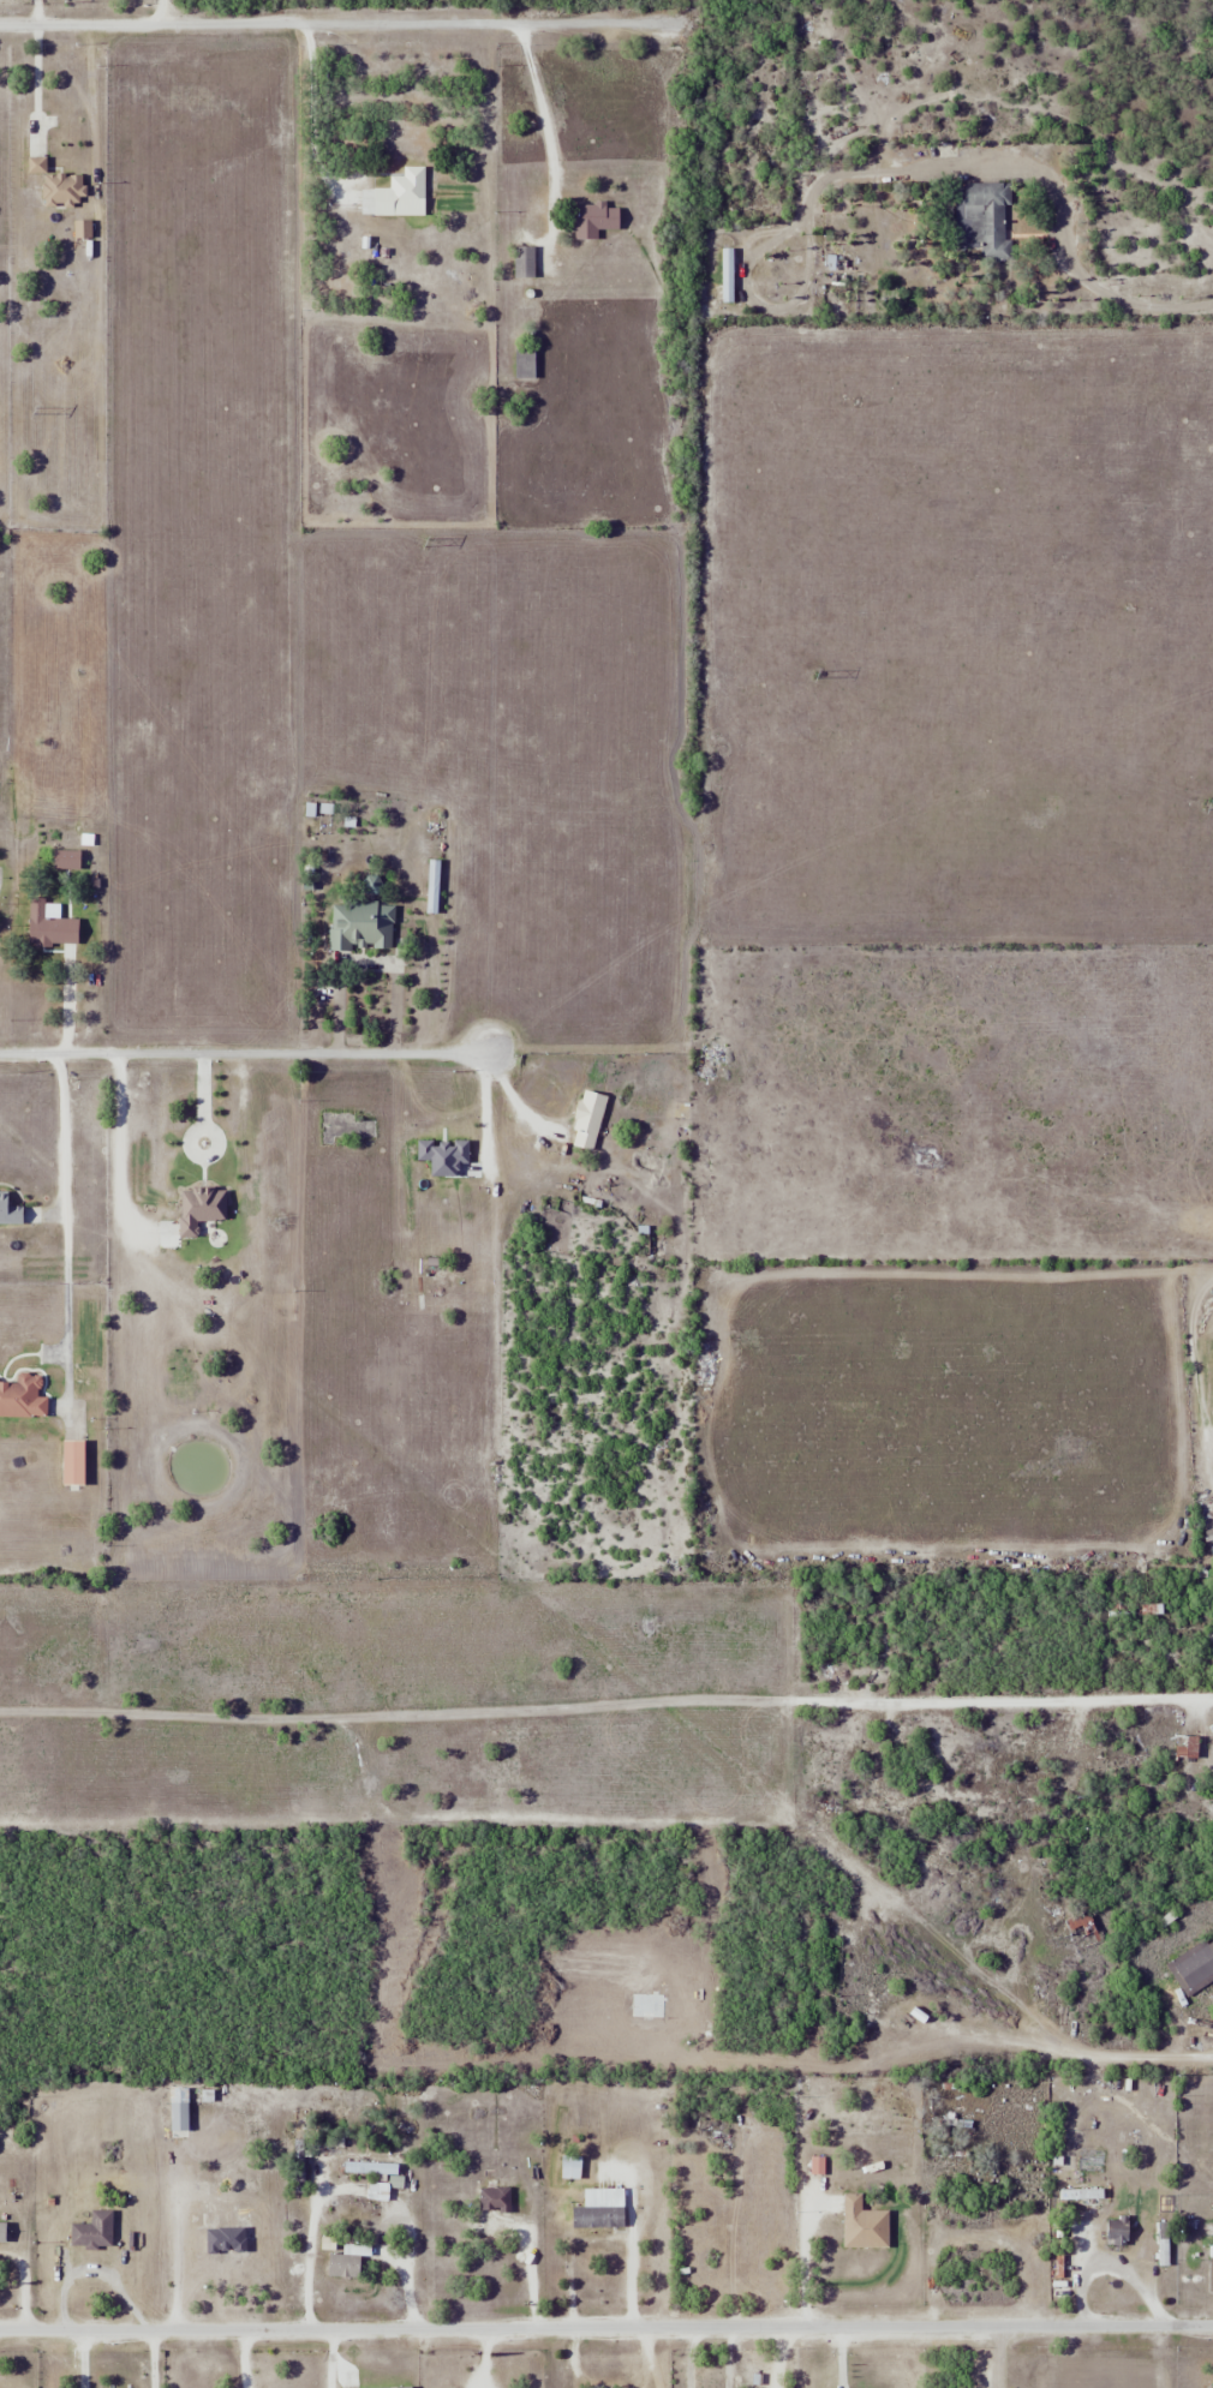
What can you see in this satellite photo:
road: (337, 22)
road: (310, 112)
building: (62, 191)
building: (400, 192)
road: (1056, 214)
building: (987, 219)
building: (592, 221)
building: (347, 247)
building: (524, 263)
building: (727, 275)
building: (524, 364)
power tower: (34, 412)
power tower: (424, 543)
power tower: (814, 675)
power tower: (1201, 806)
building: (432, 848)
building: (66, 860)
building: (361, 926)
building: (49, 927)
road: (241, 1052)
road: (510, 1097)
building: (587, 1120)
road: (115, 1143)
road: (61, 1207)
building: (10, 1211)
building: (23, 1398)
building: (1187, 1747)
building: (978, 1795)
building: (1194, 1967)
building: (872, 2000)
road: (1190, 2030)
building: (298, 2166)
building: (570, 2167)
building: (372, 2168)
building: (494, 2201)
building: (602, 2208)
building: (862, 2225)
building: (92, 2232)
building: (1115, 2237)
road: (169, 2240)
building: (1212, 2252)
road: (91, 2267)
road: (20, 2285)
road: (605, 2329)
road: (334, 2358)
road: (150, 2359)
road: (246, 2359)
building: (1211, 2387)

